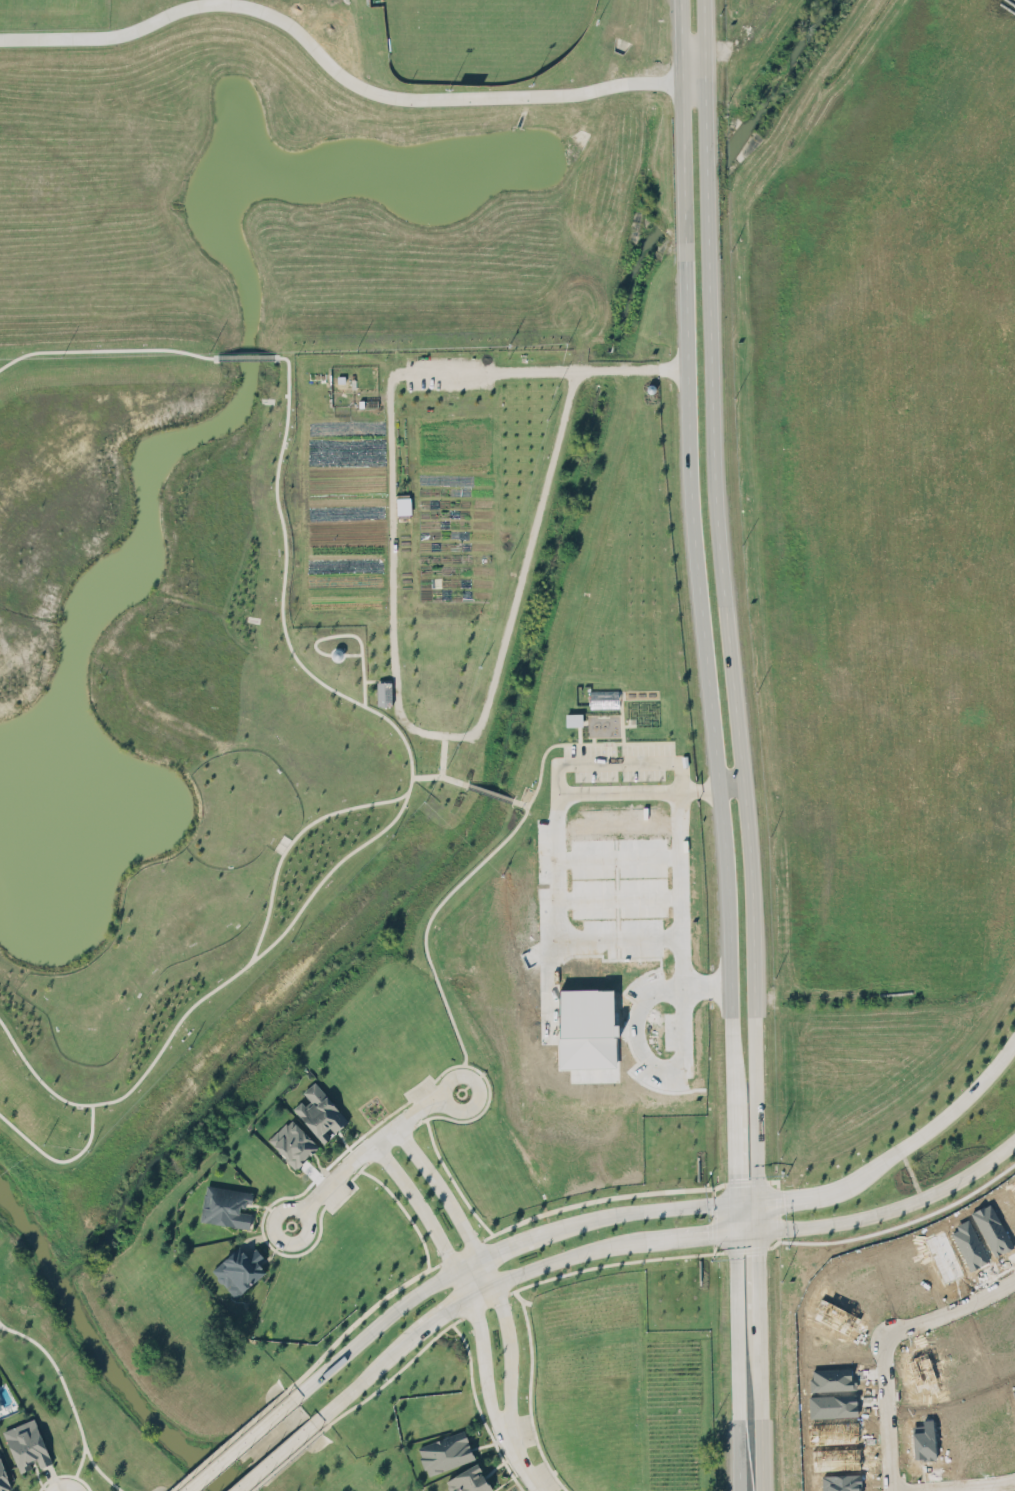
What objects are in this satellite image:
park: (55, 10)
park: (482, 38)
road: (681, 74)
road: (704, 74)
road: (338, 76)
road: (106, 300)
road: (540, 367)
crop: (418, 500)
road: (286, 542)
road: (701, 620)
road: (333, 635)
building: (332, 656)
storage tank: (332, 656)
road: (356, 668)
road: (733, 675)
road: (327, 685)
building: (384, 693)
building: (603, 698)
building: (573, 719)
road: (389, 731)
road: (457, 736)
parking lot: (618, 771)
road: (443, 776)
road: (732, 779)
road: (558, 787)
road: (493, 792)
road: (515, 798)
road: (451, 888)
road: (558, 926)
road: (216, 988)
road: (645, 1001)
building: (319, 1112)
road: (477, 1113)
road: (941, 1118)
building: (293, 1143)
road: (390, 1143)
road: (367, 1148)
road: (736, 1161)
traffic signals: (737, 1174)
road: (456, 1182)
road: (746, 1183)
road: (711, 1189)
road: (805, 1193)
road: (289, 1195)
traffic signals: (784, 1196)
road: (602, 1197)
road: (748, 1200)
building: (226, 1206)
road: (895, 1208)
road: (652, 1210)
road: (777, 1210)
road: (406, 1217)
road: (712, 1217)
road: (702, 1234)
traffic signals: (705, 1234)
road: (509, 1242)
road: (774, 1242)
road: (713, 1246)
road: (746, 1247)
road: (461, 1251)
traffic signals: (760, 1253)
road: (568, 1257)
road: (615, 1263)
road: (482, 1265)
road: (760, 1269)
building: (239, 1271)
road: (458, 1276)
road: (484, 1303)
road: (444, 1314)
road: (351, 1325)
road: (371, 1330)
road: (884, 1342)
river: (102, 1349)
road: (738, 1361)
road: (389, 1378)
road: (357, 1385)
crop: (620, 1390)
road: (57, 1392)
road: (530, 1394)
building: (1, 1402)
building: (0, 1406)
road: (478, 1407)
road: (763, 1415)
road: (223, 1438)
road: (239, 1444)
building: (29, 1446)
building: (445, 1452)
road: (275, 1456)
road: (518, 1459)
road: (283, 1460)
road: (92, 1472)
building: (4, 1474)
road: (56, 1477)
building: (468, 1480)
road: (63, 1481)
road: (969, 1484)
road: (54, 1486)

